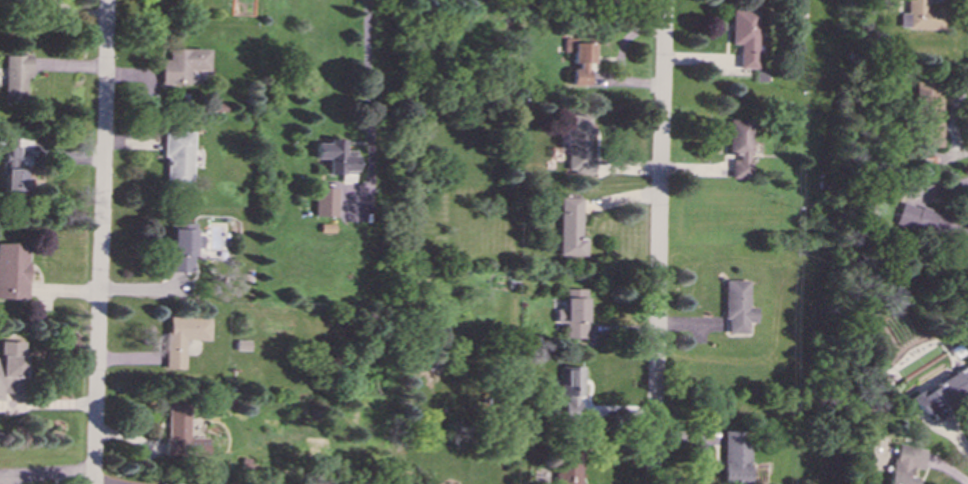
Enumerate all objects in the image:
building: (919, 15)
building: (744, 36)
building: (578, 60)
building: (181, 64)
road: (368, 64)
building: (16, 76)
building: (929, 113)
building: (563, 138)
building: (578, 143)
building: (738, 147)
building: (334, 156)
building: (176, 159)
building: (13, 171)
building: (324, 201)
building: (924, 219)
building: (570, 227)
road: (101, 241)
road: (658, 242)
building: (182, 248)
building: (13, 270)
building: (736, 305)
building: (572, 312)
building: (182, 337)
building: (242, 344)
building: (11, 367)
building: (569, 389)
building: (943, 394)
building: (180, 431)
building: (733, 456)
building: (906, 464)
building: (567, 467)
road: (47, 473)

